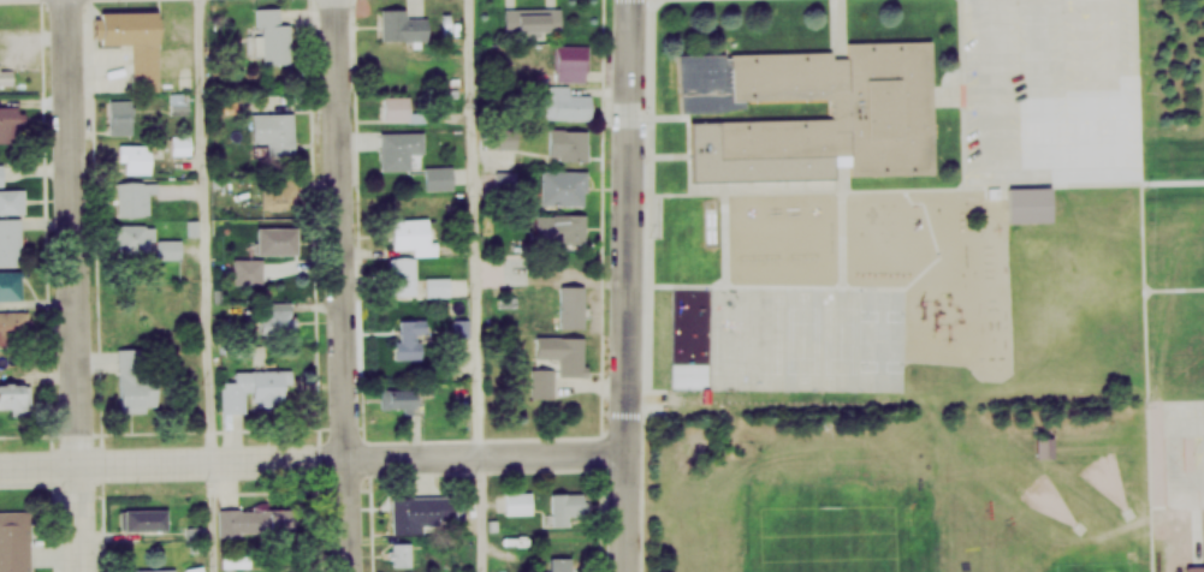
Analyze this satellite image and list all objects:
building: (532, 18)
building: (403, 24)
building: (272, 35)
building: (137, 40)
building: (571, 61)
building: (564, 101)
building: (396, 106)
building: (883, 112)
building: (121, 115)
building: (7, 121)
building: (274, 131)
building: (570, 143)
building: (398, 148)
building: (135, 157)
building: (2, 173)
building: (439, 177)
building: (564, 186)
building: (284, 192)
building: (134, 196)
building: (12, 199)
building: (1031, 204)
building: (570, 227)
road: (470, 230)
building: (275, 239)
building: (10, 240)
building: (146, 242)
building: (411, 260)
building: (248, 264)
building: (10, 284)
road: (81, 285)
road: (201, 286)
road: (339, 286)
road: (631, 286)
building: (571, 306)
building: (277, 320)
building: (12, 327)
building: (410, 338)
building: (570, 363)
building: (132, 379)
building: (255, 388)
building: (16, 394)
building: (397, 398)
road: (1192, 422)
building: (1040, 441)
road: (315, 467)
building: (518, 502)
building: (568, 507)
building: (421, 512)
road: (476, 517)
building: (144, 518)
building: (248, 523)
building: (14, 541)
building: (401, 553)
building: (561, 564)
building: (1193, 567)
building: (196, 568)
building: (149, 570)

